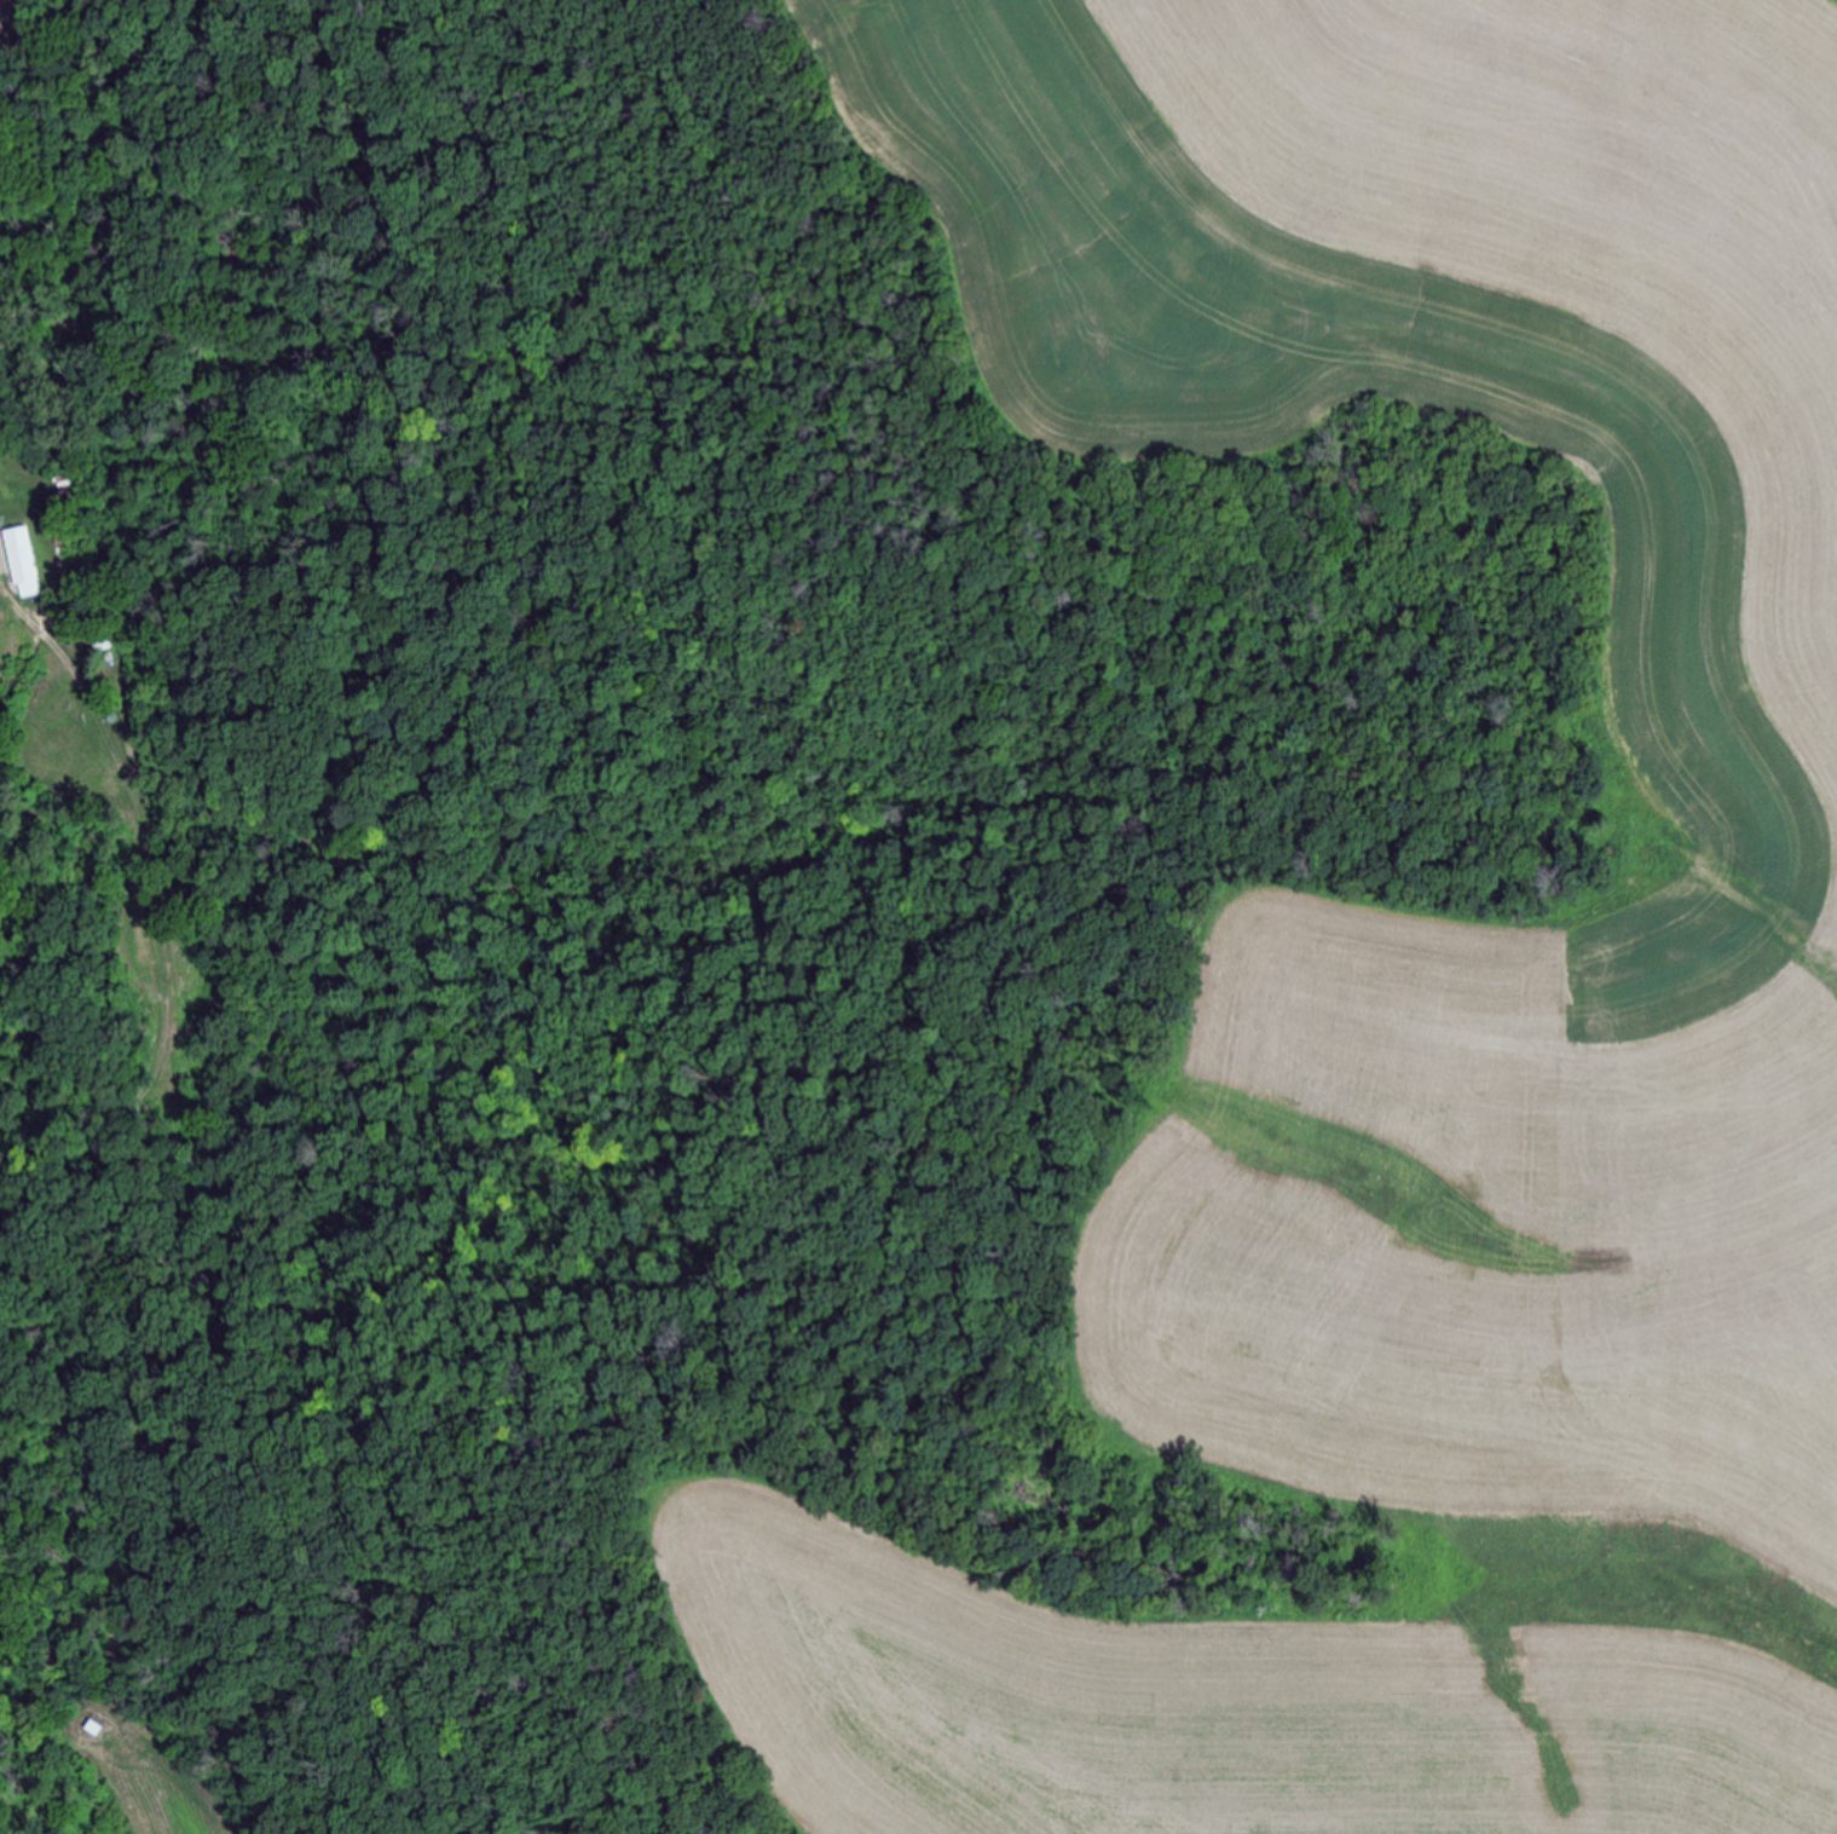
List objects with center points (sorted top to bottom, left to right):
road: (314, 53)
road: (276, 106)
building: (25, 564)
building: (0, 650)
building: (99, 1728)

